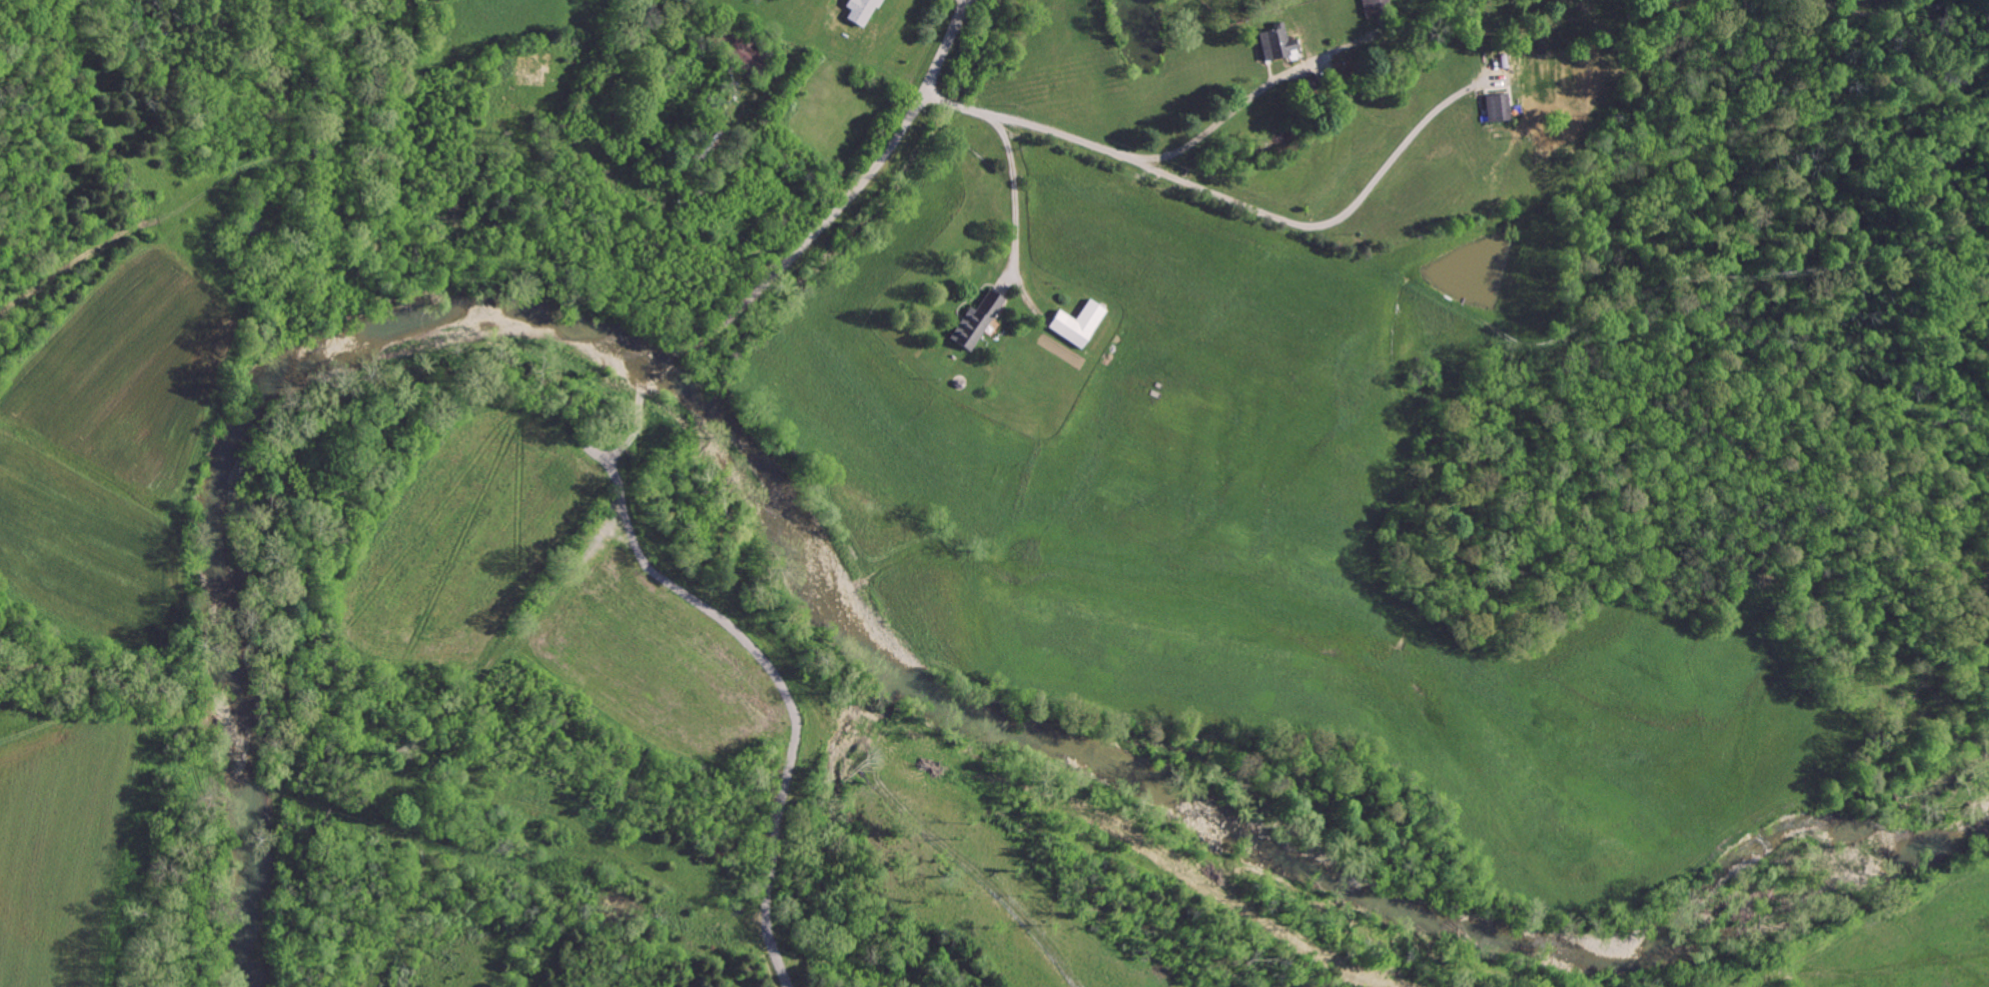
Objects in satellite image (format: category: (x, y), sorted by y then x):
building: (1377, 8)
building: (861, 11)
building: (1277, 42)
road: (1262, 87)
building: (1500, 107)
road: (796, 158)
road: (1234, 199)
road: (1017, 202)
road: (751, 300)
road: (1, 318)
building: (977, 319)
building: (1079, 323)

